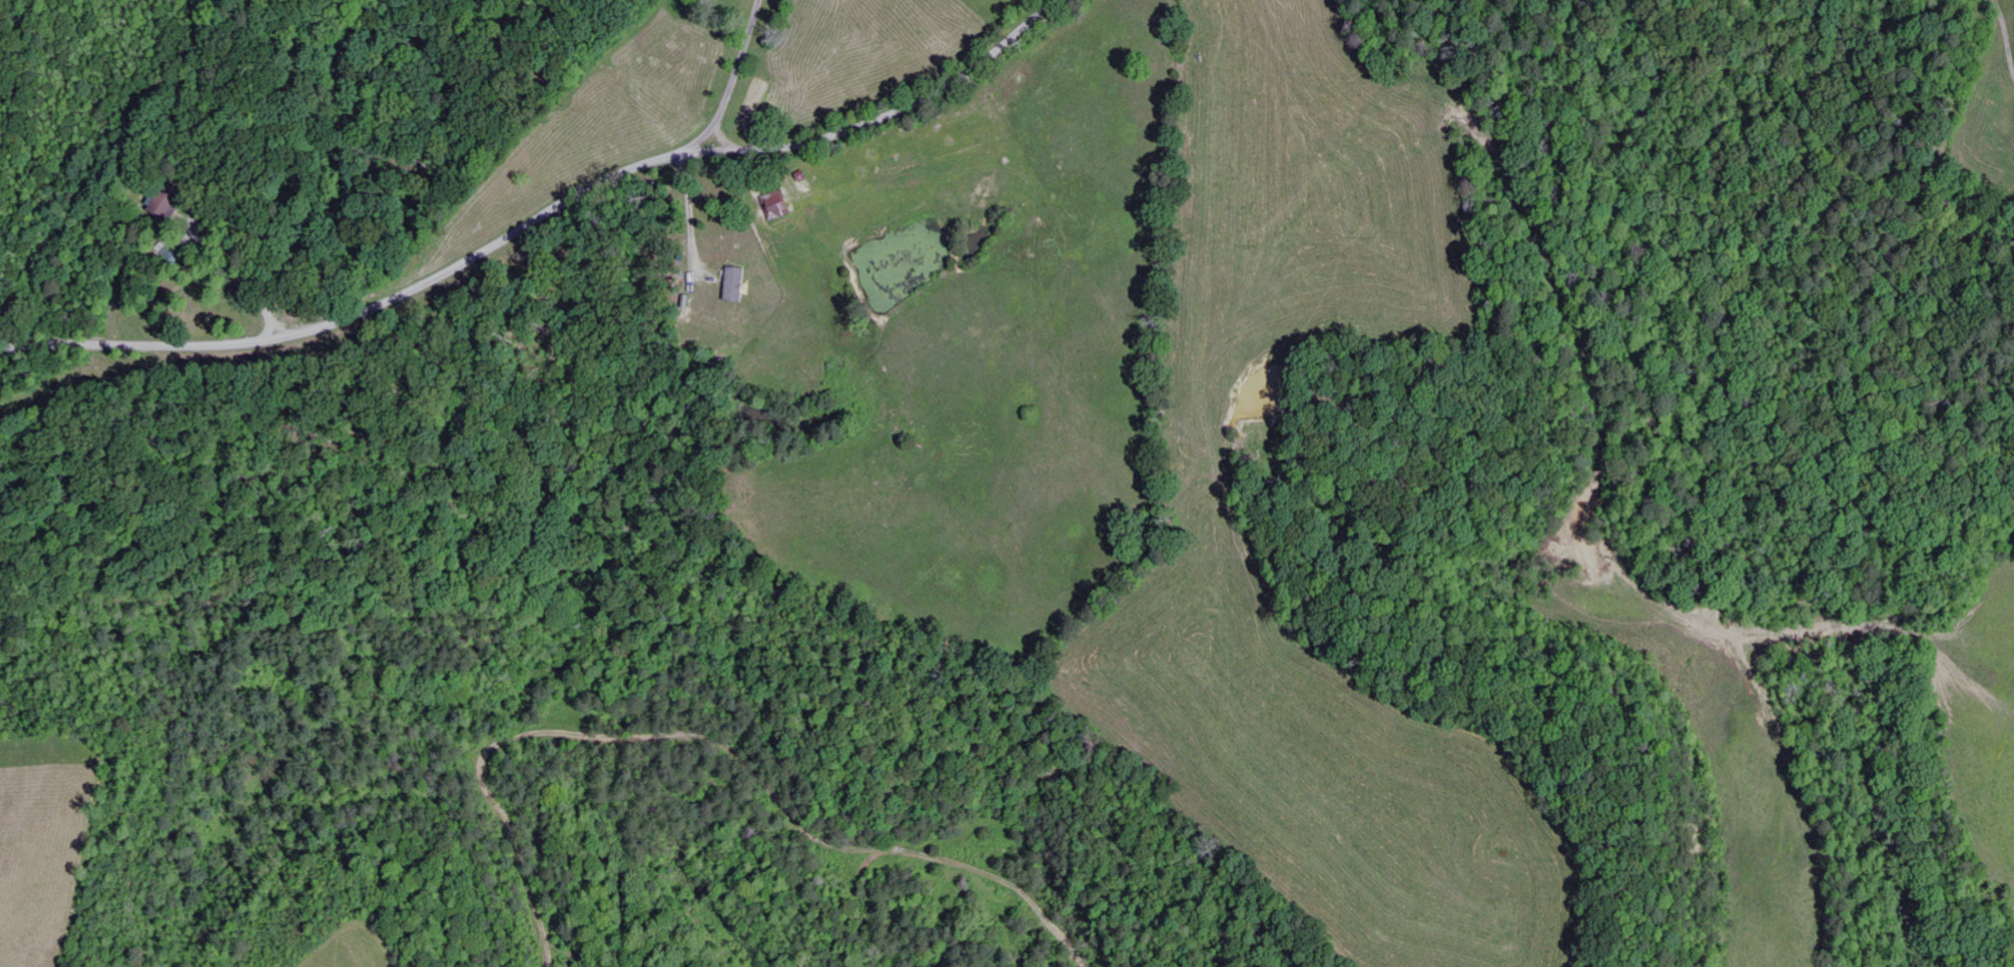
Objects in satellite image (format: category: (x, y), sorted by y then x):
road: (1019, 23)
road: (731, 88)
building: (169, 205)
building: (783, 210)
road: (510, 236)
building: (739, 286)

